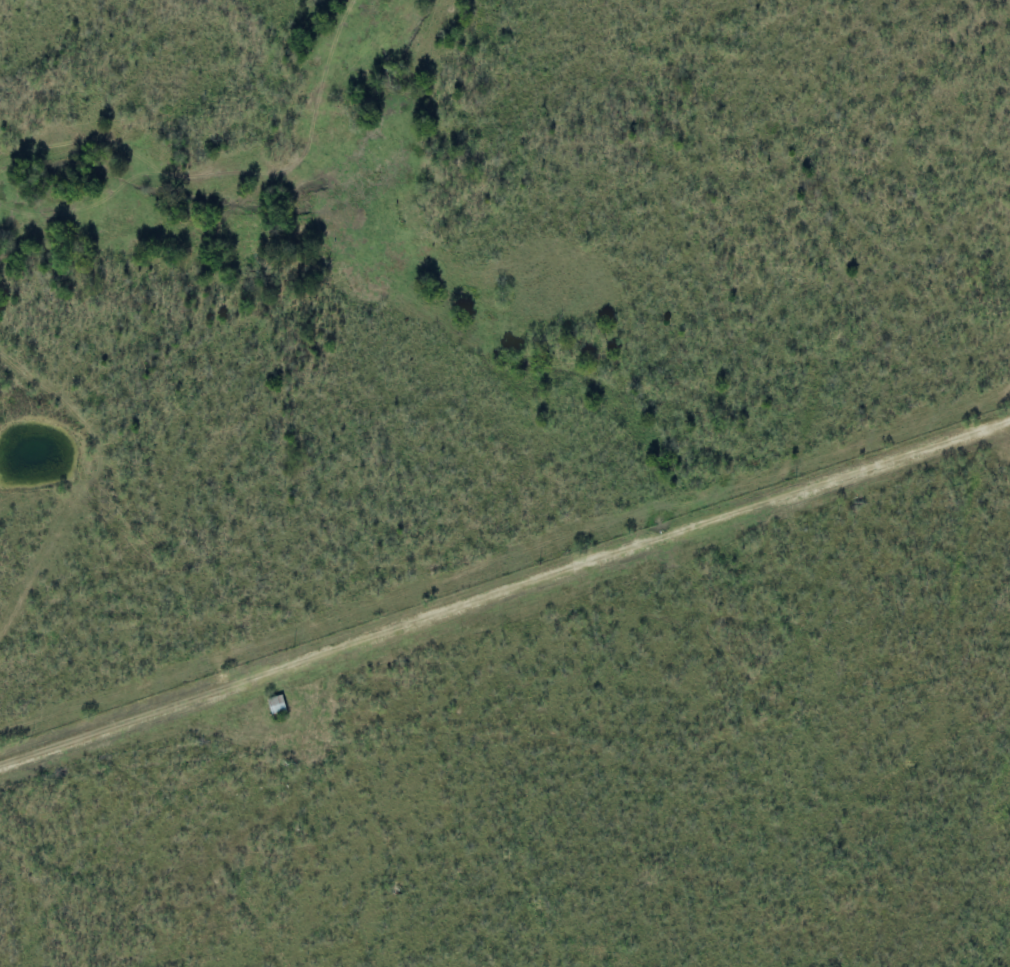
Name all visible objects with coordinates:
road: (504, 610)

